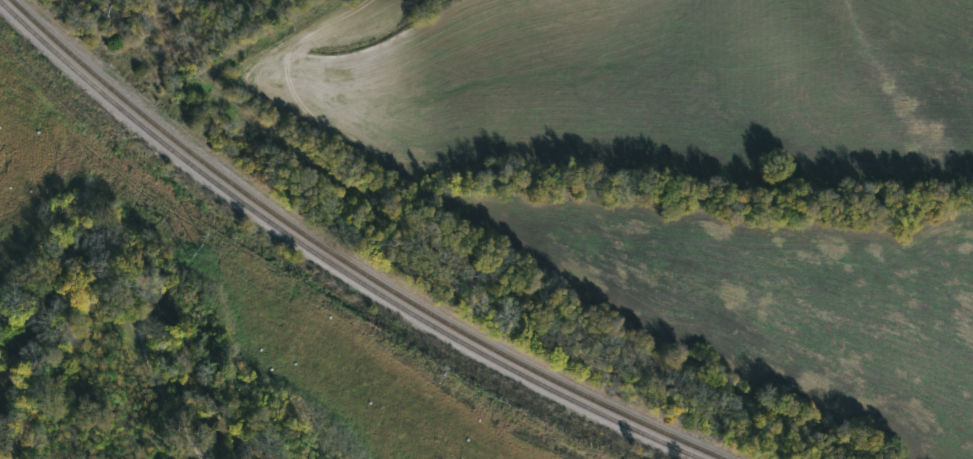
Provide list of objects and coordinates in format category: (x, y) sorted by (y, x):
railway: (332, 262)
railway: (350, 263)
road: (108, 277)

